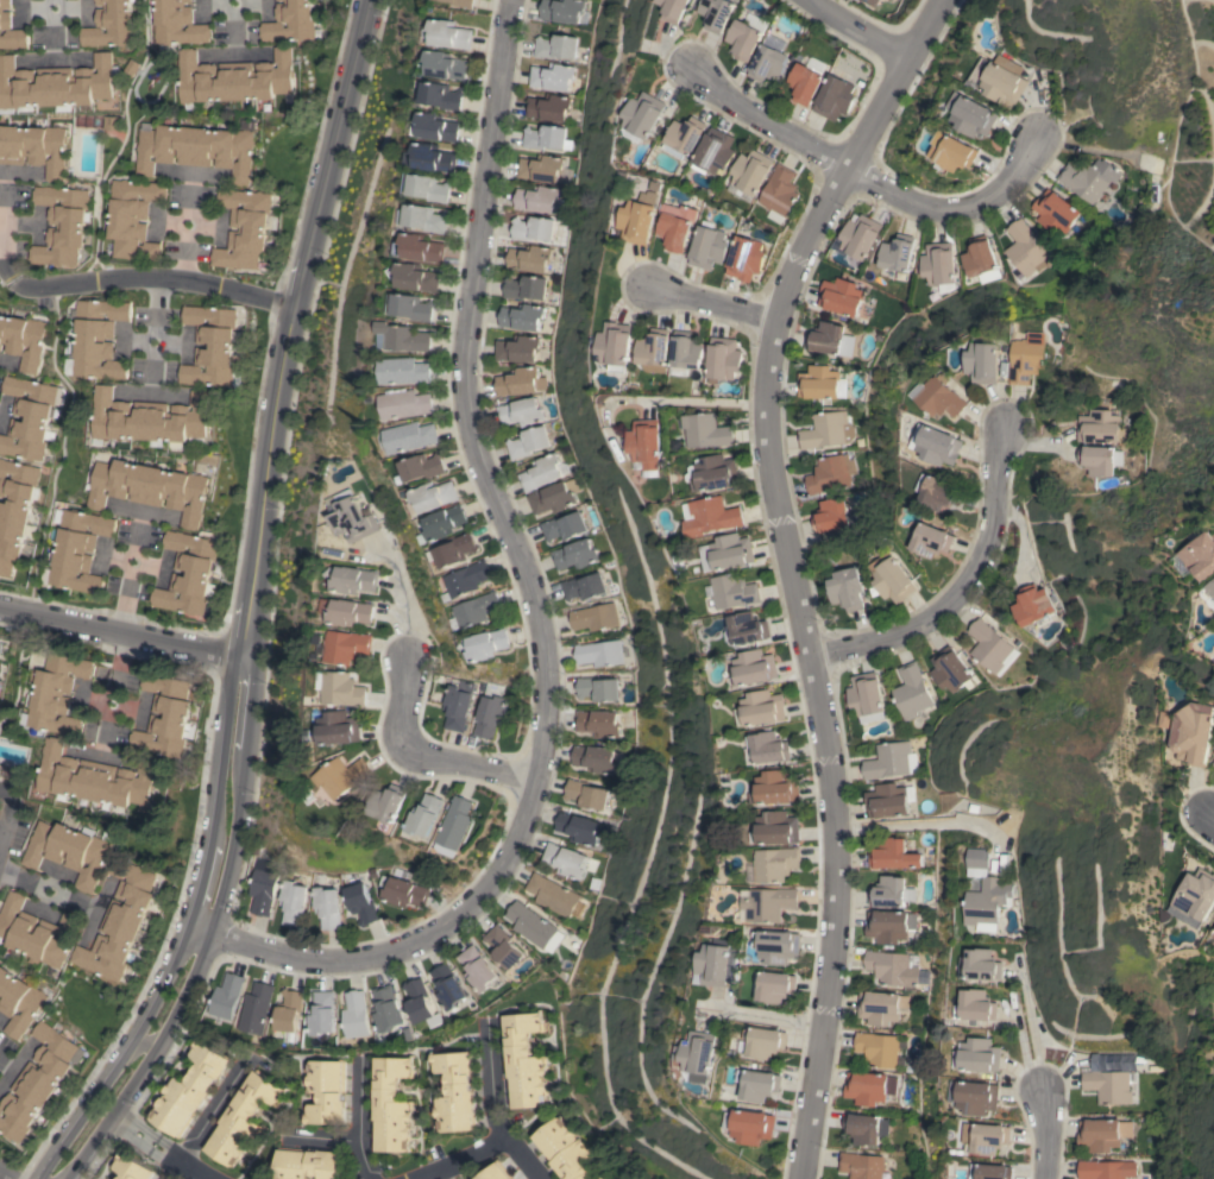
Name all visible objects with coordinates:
road: (54, 0)
building: (872, 1)
building: (464, 2)
building: (561, 10)
building: (674, 10)
building: (717, 13)
road: (233, 14)
building: (291, 21)
building: (177, 23)
building: (111, 24)
building: (11, 29)
road: (856, 29)
road: (923, 29)
road: (235, 34)
building: (451, 34)
road: (55, 39)
building: (744, 39)
building: (555, 46)
building: (768, 63)
building: (813, 64)
building: (444, 65)
building: (552, 76)
building: (234, 78)
building: (1000, 78)
building: (804, 83)
building: (57, 86)
building: (441, 96)
building: (835, 97)
building: (548, 107)
building: (643, 114)
building: (973, 114)
building: (112, 122)
road: (763, 125)
building: (439, 126)
building: (684, 135)
building: (543, 137)
building: (34, 147)
building: (195, 149)
building: (715, 151)
building: (952, 151)
building: (432, 157)
building: (540, 168)
building: (749, 174)
building: (1088, 178)
building: (430, 188)
building: (779, 190)
building: (536, 198)
road: (951, 212)
building: (1053, 212)
building: (133, 217)
building: (426, 217)
building: (639, 219)
building: (62, 225)
building: (243, 228)
building: (533, 228)
building: (674, 232)
building: (860, 237)
building: (421, 247)
building: (707, 247)
building: (1025, 250)
road: (183, 256)
building: (897, 256)
building: (528, 258)
building: (746, 258)
building: (980, 259)
building: (938, 264)
building: (417, 277)
road: (105, 279)
building: (527, 288)
building: (841, 296)
road: (711, 303)
building: (414, 307)
building: (521, 317)
road: (156, 334)
building: (24, 338)
building: (99, 338)
building: (825, 338)
building: (408, 339)
building: (616, 345)
building: (212, 346)
building: (517, 348)
building: (654, 349)
building: (685, 352)
building: (1027, 358)
building: (723, 359)
building: (985, 362)
building: (404, 371)
building: (520, 382)
building: (818, 382)
building: (941, 397)
road: (685, 402)
building: (405, 404)
building: (521, 412)
building: (29, 417)
building: (150, 420)
building: (1101, 428)
building: (705, 430)
building: (824, 430)
building: (410, 436)
building: (528, 442)
building: (647, 443)
building: (936, 445)
building: (1100, 460)
building: (421, 467)
building: (540, 472)
building: (715, 473)
building: (831, 473)
building: (150, 487)
building: (941, 493)
building: (433, 497)
building: (554, 497)
building: (14, 510)
building: (711, 516)
building: (832, 516)
building: (351, 517)
building: (446, 522)
building: (564, 527)
building: (932, 541)
building: (457, 550)
building: (77, 551)
building: (728, 553)
building: (575, 555)
building: (1200, 557)
building: (189, 573)
building: (892, 578)
building: (356, 580)
building: (468, 580)
building: (584, 587)
building: (848, 588)
building: (734, 591)
building: (1210, 594)
road: (536, 599)
road: (963, 599)
road: (794, 604)
road: (247, 605)
building: (1033, 605)
building: (477, 610)
building: (348, 612)
building: (593, 617)
road: (404, 619)
building: (748, 628)
road: (119, 637)
road: (124, 638)
building: (485, 644)
building: (342, 647)
building: (990, 648)
building: (599, 654)
building: (755, 667)
building: (951, 670)
building: (341, 688)
building: (598, 689)
building: (911, 692)
building: (55, 694)
building: (866, 694)
building: (458, 705)
building: (765, 707)
building: (490, 710)
building: (166, 715)
building: (597, 723)
building: (340, 727)
building: (1195, 733)
building: (769, 749)
building: (595, 758)
road: (424, 759)
building: (888, 761)
building: (342, 776)
building: (96, 777)
building: (776, 788)
building: (585, 794)
building: (886, 800)
building: (388, 803)
building: (426, 815)
road: (938, 824)
road: (1209, 824)
building: (454, 827)
building: (779, 827)
building: (578, 828)
building: (70, 851)
building: (894, 855)
building: (979, 858)
building: (567, 860)
building: (776, 863)
road: (31, 879)
building: (263, 890)
building: (403, 891)
building: (891, 893)
building: (552, 894)
building: (1196, 897)
building: (293, 902)
building: (360, 903)
building: (768, 903)
building: (987, 903)
building: (327, 907)
building: (120, 921)
building: (889, 926)
building: (533, 927)
building: (36, 931)
building: (778, 946)
building: (502, 947)
building: (719, 964)
building: (981, 965)
building: (895, 967)
building: (476, 969)
building: (447, 986)
building: (775, 986)
building: (226, 995)
building: (19, 1001)
building: (419, 1003)
building: (976, 1005)
building: (256, 1007)
building: (879, 1007)
building: (289, 1010)
building: (385, 1011)
building: (321, 1014)
building: (354, 1015)
road: (772, 1017)
building: (765, 1042)
building: (878, 1048)
building: (702, 1055)
building: (980, 1055)
building: (524, 1060)
building: (1111, 1077)
building: (37, 1082)
building: (760, 1084)
building: (870, 1087)
building: (189, 1089)
building: (326, 1091)
building: (455, 1092)
building: (975, 1097)
building: (390, 1104)
road: (492, 1109)
building: (241, 1118)
road: (201, 1121)
road: (357, 1122)
building: (751, 1126)
building: (866, 1128)
building: (1102, 1134)
road: (325, 1139)
building: (989, 1139)
road: (1044, 1139)
road: (156, 1146)
building: (562, 1149)
road: (460, 1159)
building: (306, 1164)
building: (863, 1166)
building: (132, 1167)
building: (1106, 1169)
building: (992, 1171)
building: (496, 1172)
road: (6, 1174)
building: (605, 1177)

